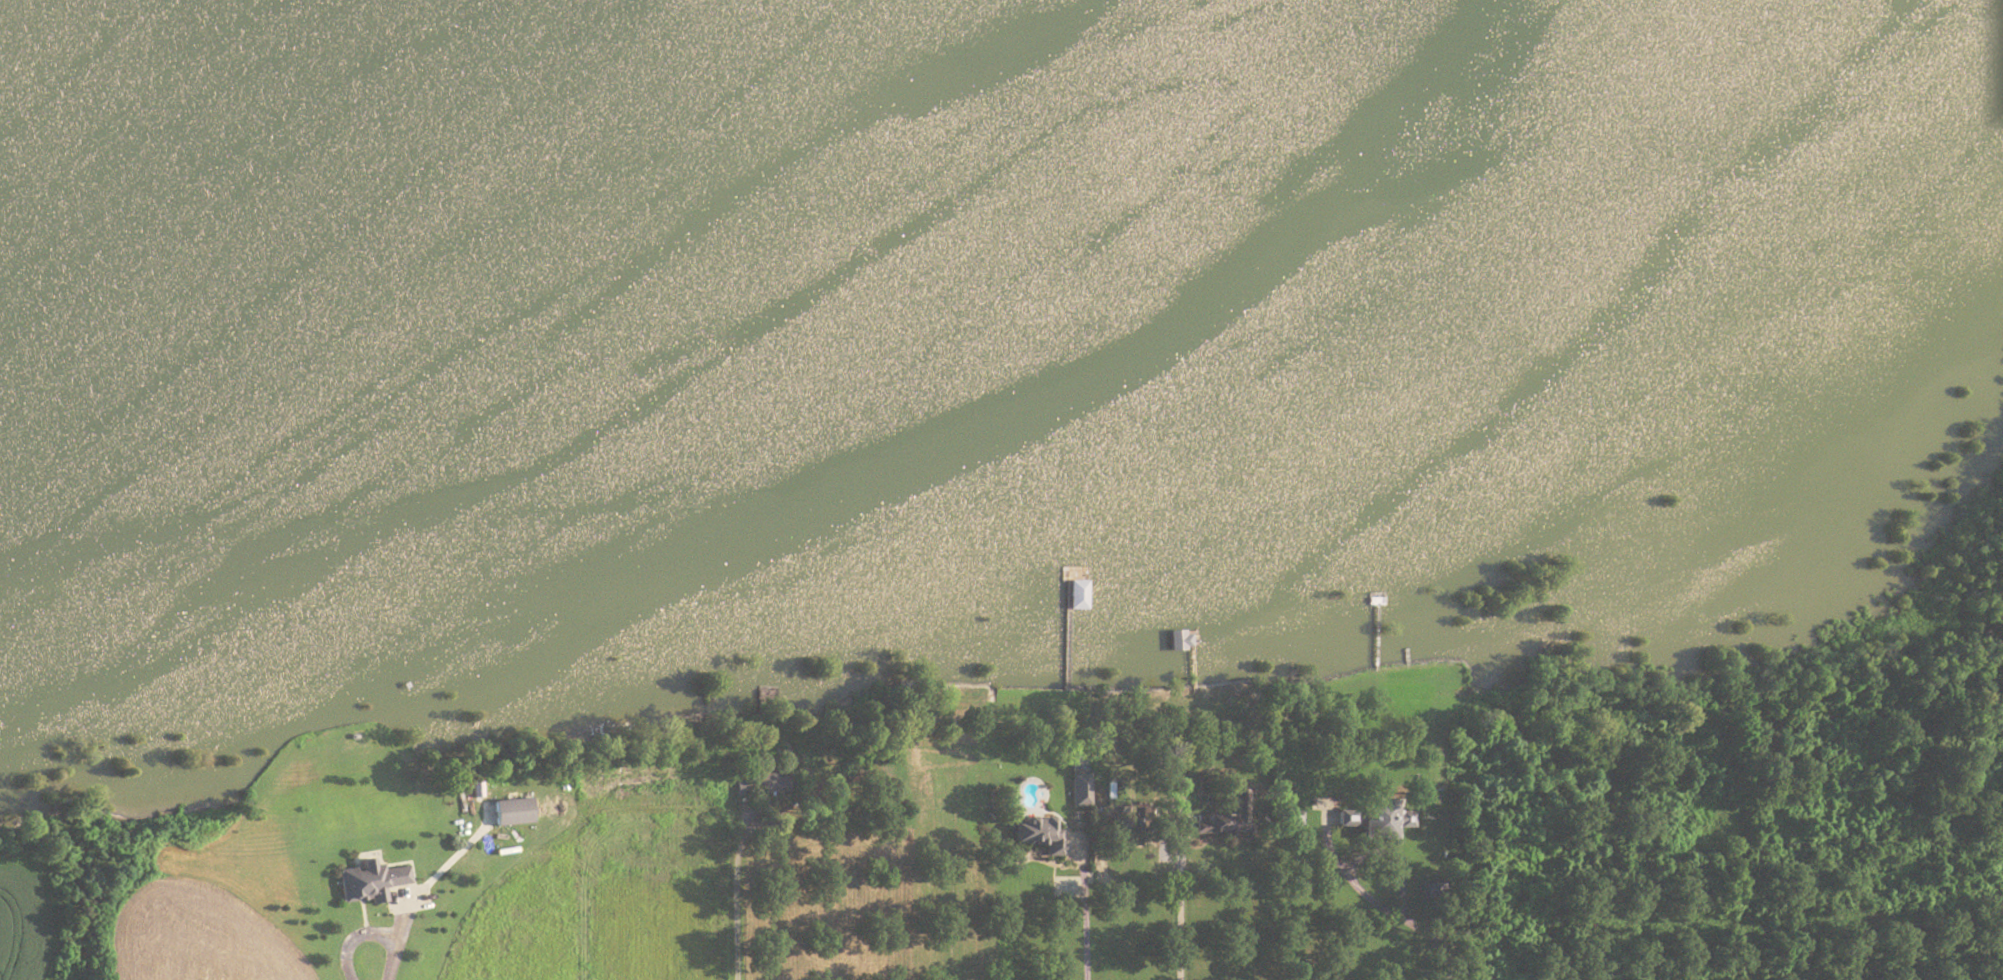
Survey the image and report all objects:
building: (1178, 643)
building: (507, 815)
building: (375, 883)
road: (1443, 906)
road: (745, 923)
road: (1184, 927)

